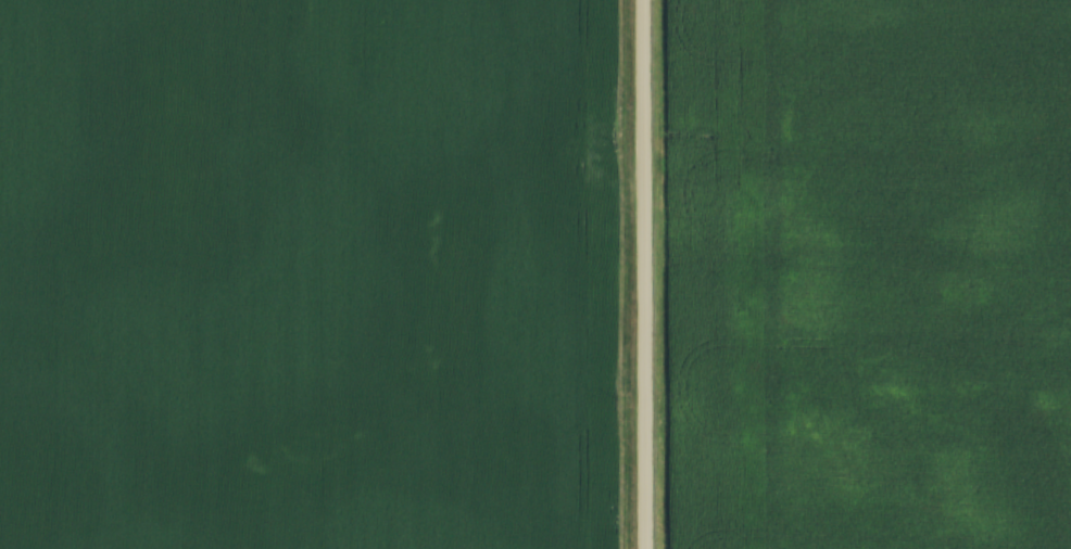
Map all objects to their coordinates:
road: (647, 274)

